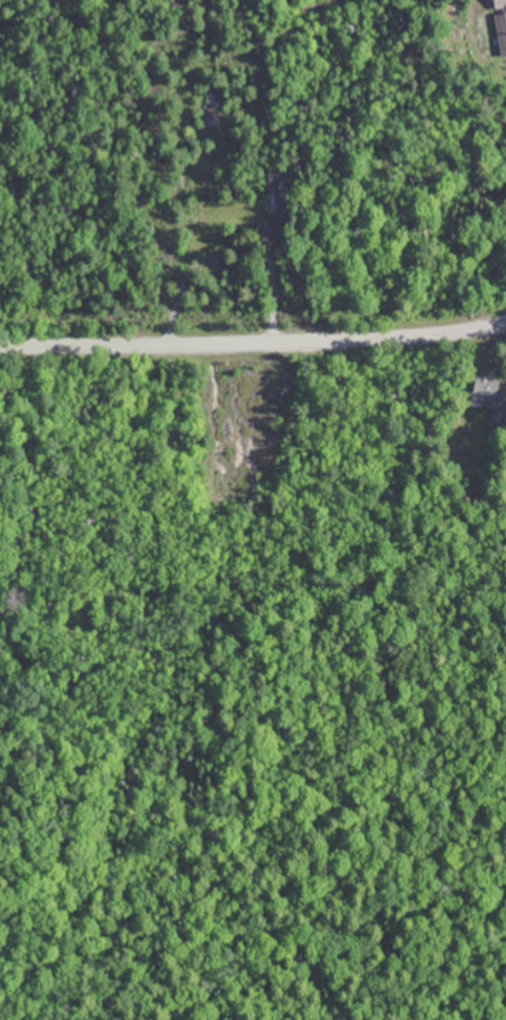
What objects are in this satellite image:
building: (500, 24)
building: (281, 196)
road: (232, 244)
road: (253, 344)
building: (484, 387)

